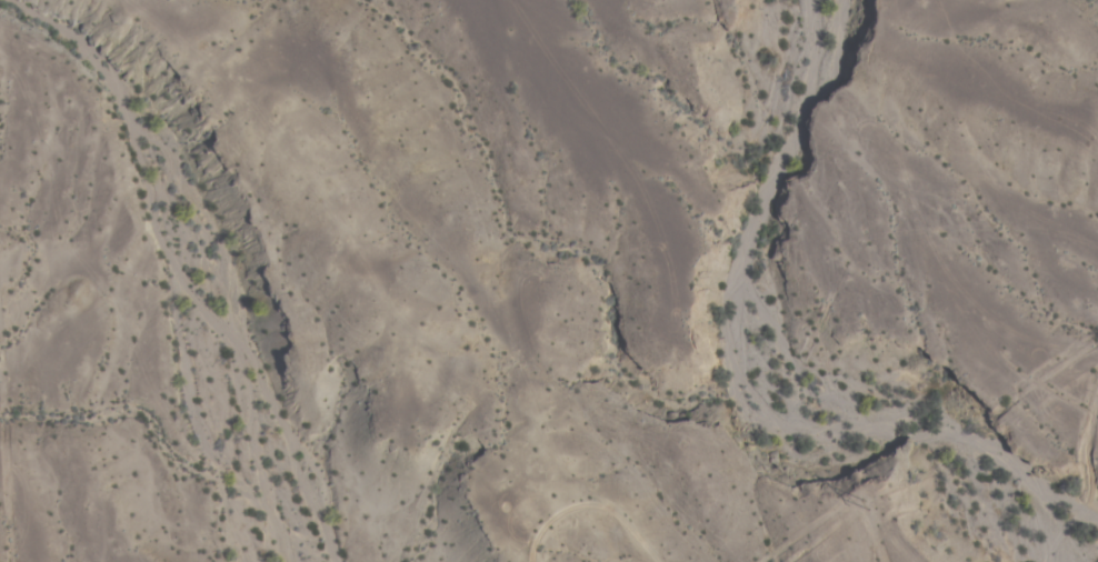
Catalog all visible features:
power tower: (861, 502)

